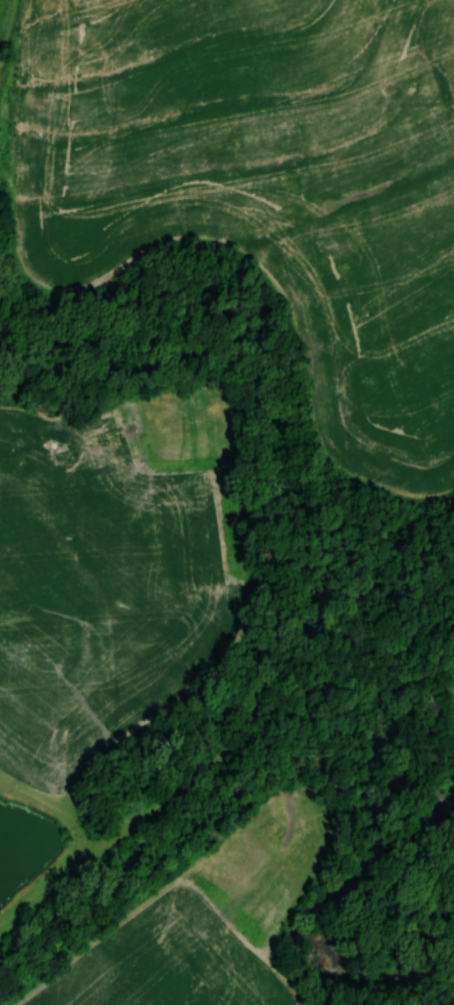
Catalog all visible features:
river: (307, 923)

